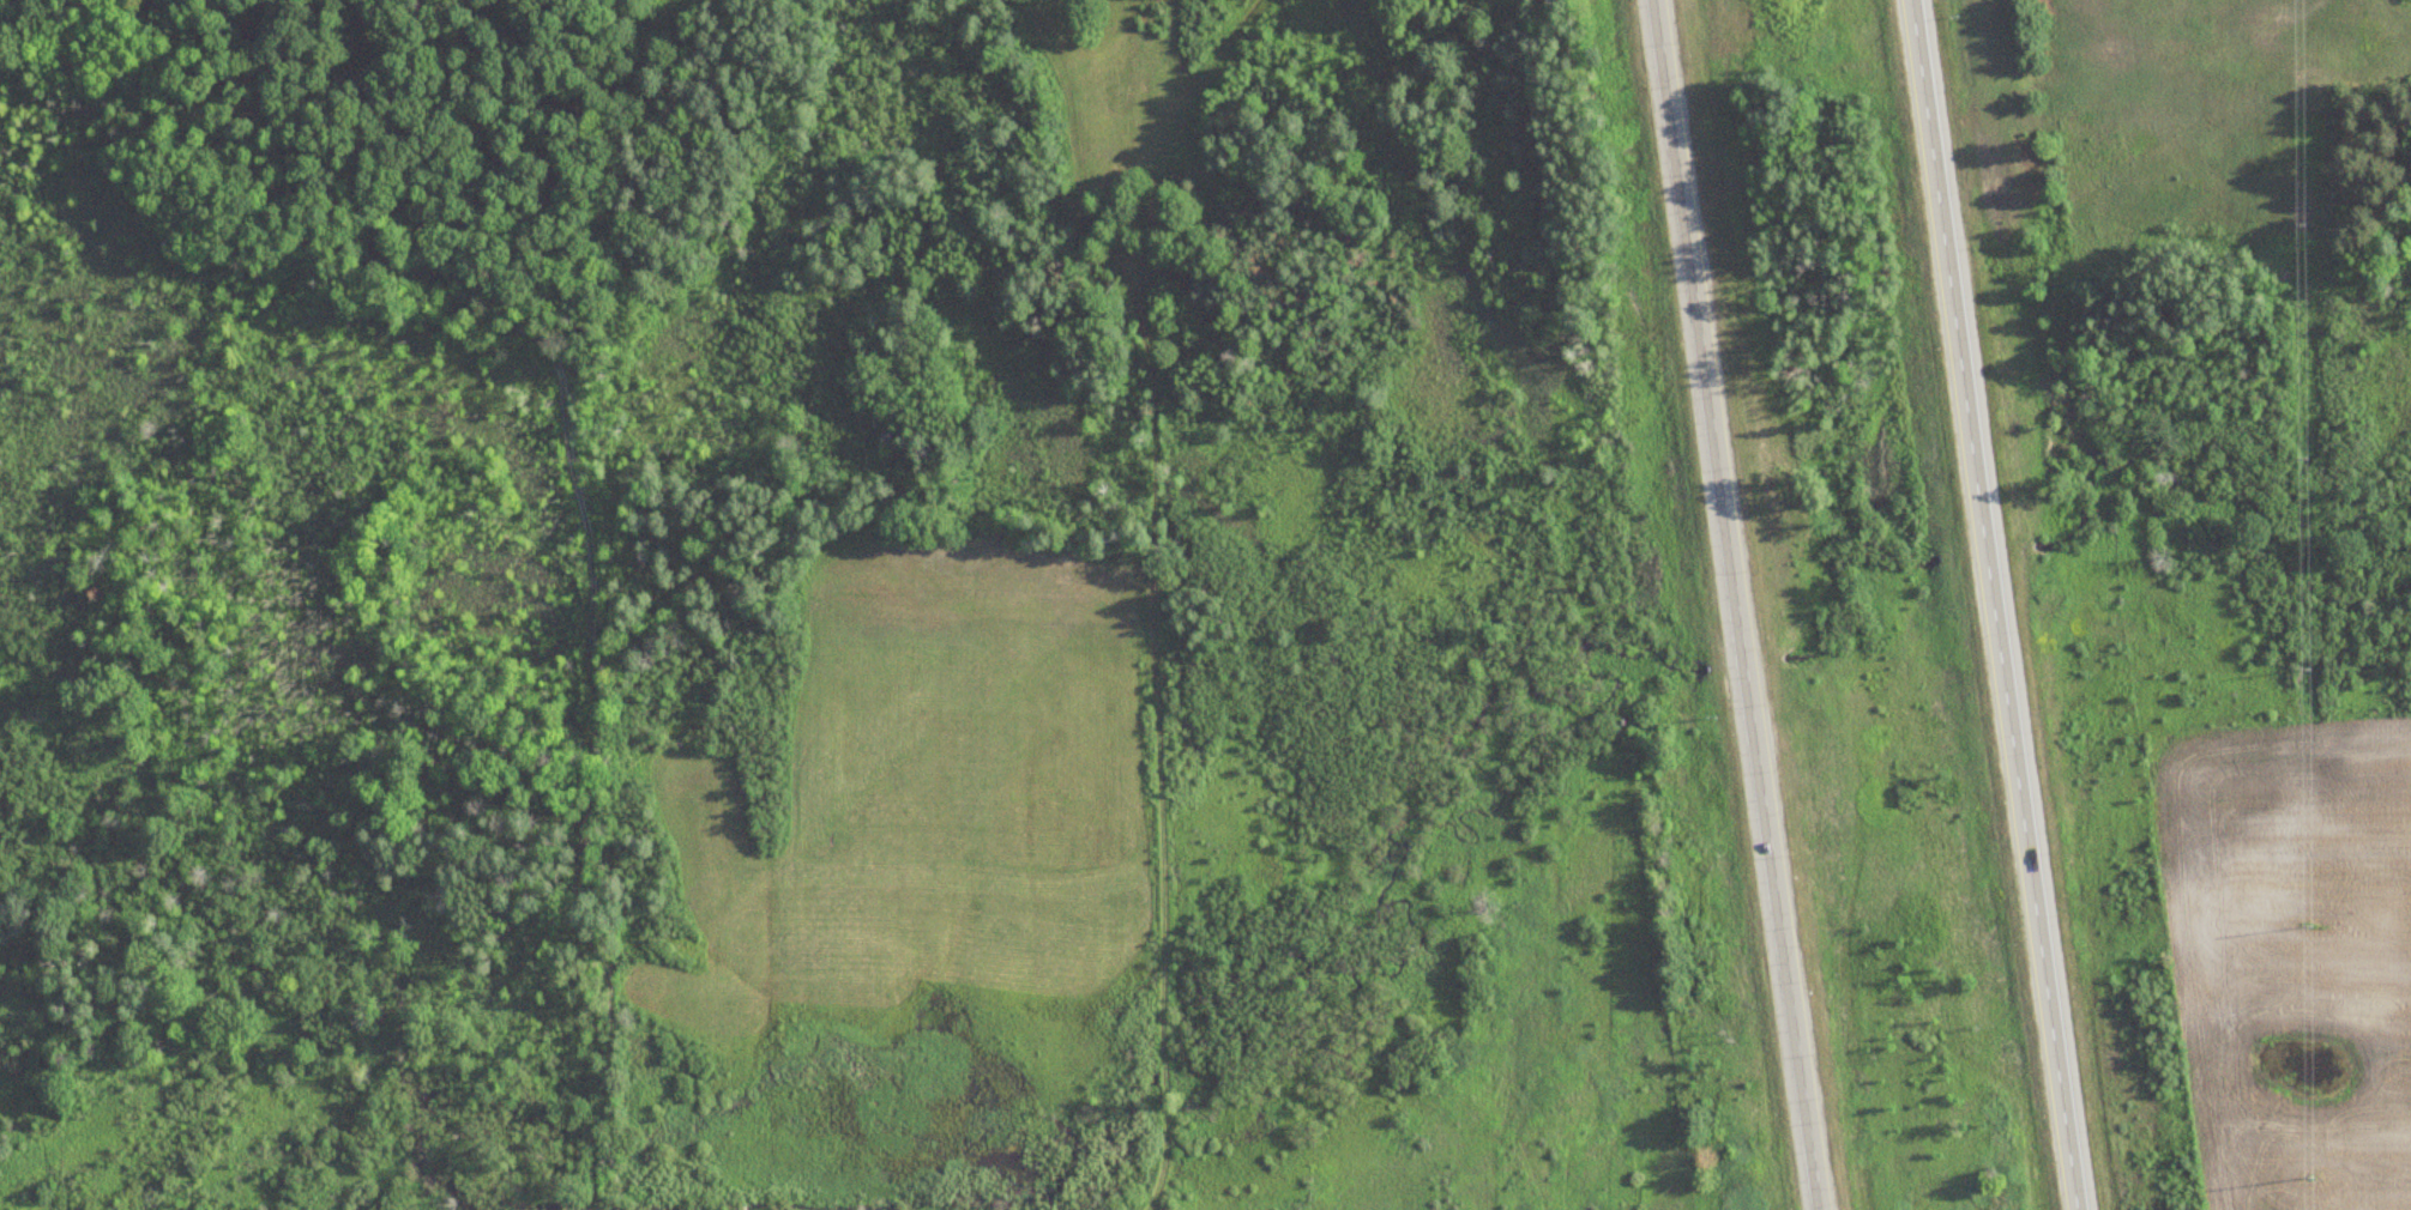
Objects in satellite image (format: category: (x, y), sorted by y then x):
building: (1711, 501)
road: (1737, 604)
road: (1979, 605)

